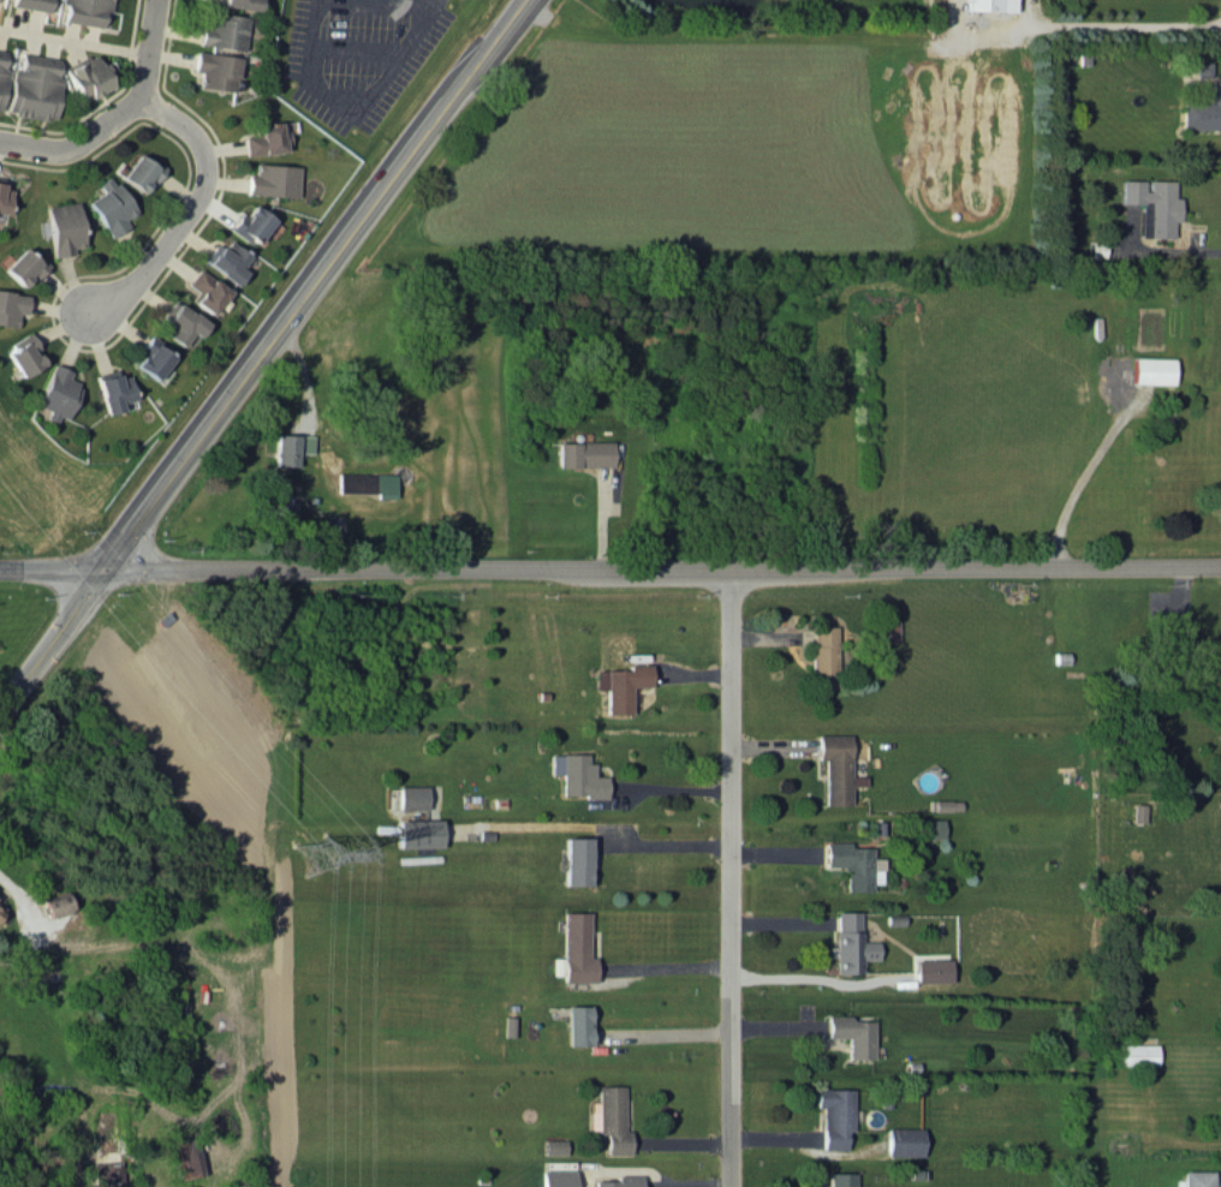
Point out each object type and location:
road: (399, 1)
road: (431, 2)
building: (31, 4)
building: (238, 4)
building: (987, 5)
building: (85, 11)
road: (1121, 23)
road: (976, 24)
building: (224, 30)
road: (73, 40)
road: (353, 48)
building: (1199, 67)
building: (215, 70)
building: (1, 72)
building: (87, 76)
road: (376, 84)
building: (34, 87)
road: (114, 113)
building: (264, 138)
building: (139, 171)
building: (272, 179)
building: (4, 198)
building: (1150, 204)
building: (109, 205)
road: (189, 207)
building: (250, 222)
building: (64, 227)
road: (1172, 250)
building: (225, 260)
building: (24, 264)
building: (204, 291)
building: (12, 305)
building: (180, 322)
building: (24, 354)
building: (151, 357)
road: (262, 363)
building: (1151, 369)
building: (113, 389)
building: (56, 393)
building: (292, 447)
building: (583, 453)
road: (1080, 476)
building: (368, 483)
building: (285, 508)
traffic signals: (115, 568)
road: (610, 568)
building: (823, 657)
building: (621, 685)
building: (835, 768)
building: (576, 775)
road: (673, 789)
building: (410, 797)
building: (945, 804)
building: (930, 828)
building: (417, 833)
road: (666, 845)
power tower: (314, 854)
building: (574, 860)
building: (852, 864)
road: (734, 877)
road: (12, 890)
building: (55, 903)
building: (0, 908)
building: (850, 943)
building: (577, 948)
road: (668, 967)
building: (930, 968)
road: (806, 976)
building: (578, 1025)
road: (672, 1031)
building: (851, 1033)
building: (1136, 1054)
building: (834, 1115)
building: (610, 1119)
building: (903, 1140)
building: (190, 1156)
building: (109, 1174)
building: (558, 1177)
building: (1196, 1177)
building: (840, 1179)
road: (665, 1180)
building: (619, 1181)

